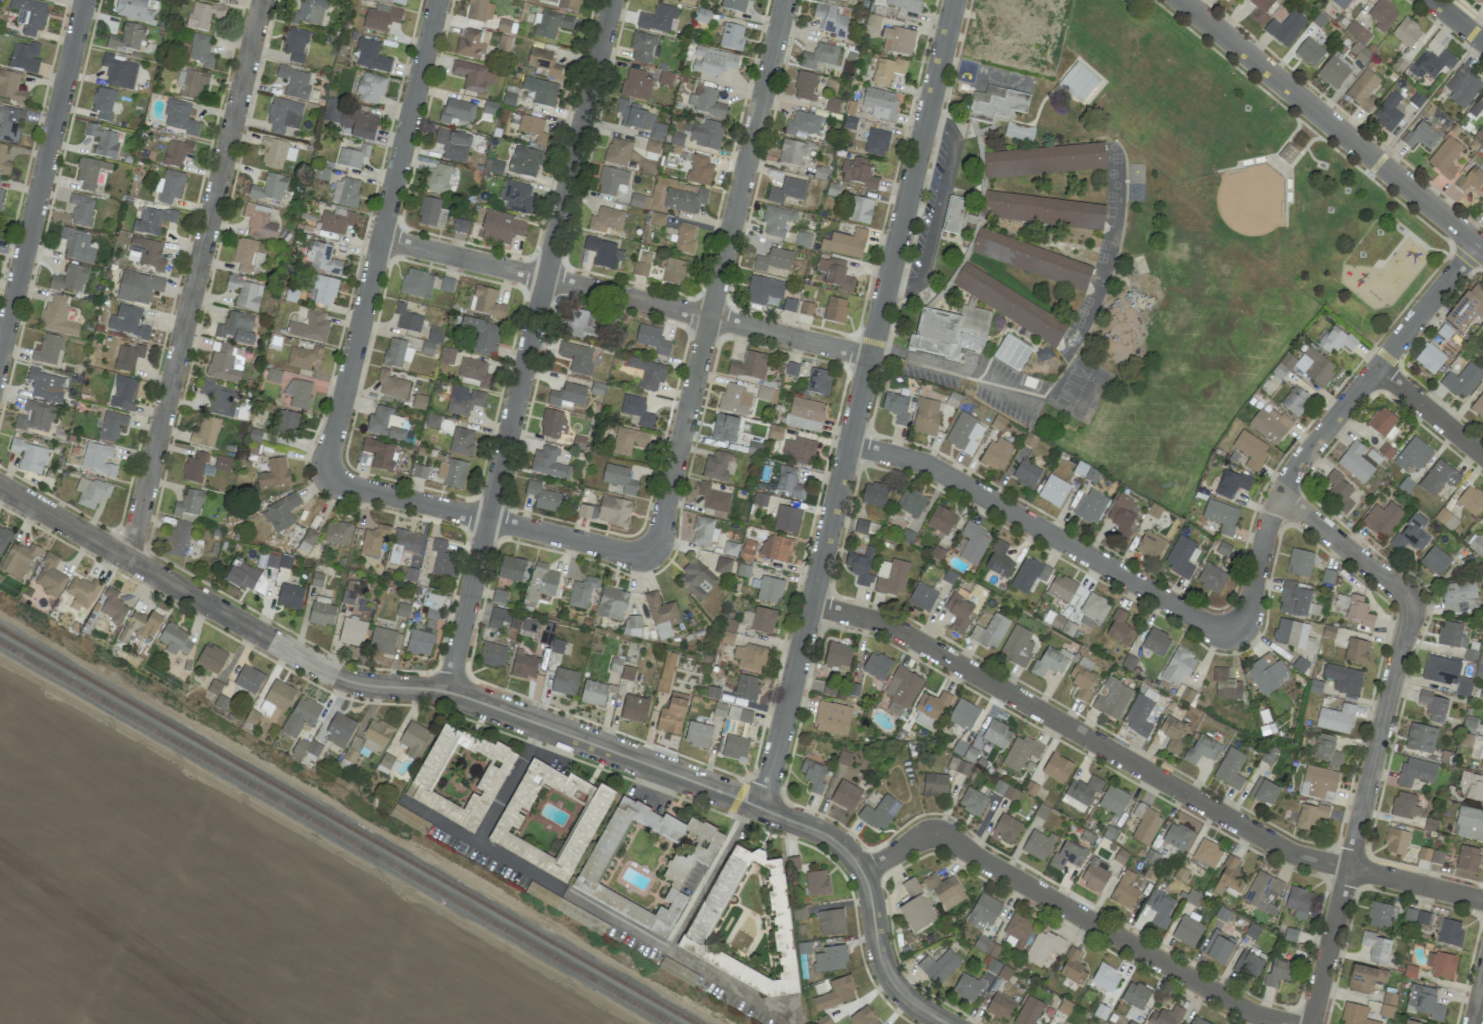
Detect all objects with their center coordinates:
building: (1233, 0)
building: (1363, 0)
building: (396, 1)
building: (834, 1)
building: (1481, 1)
building: (1340, 3)
building: (568, 5)
building: (735, 5)
building: (906, 8)
building: (1033, 8)
building: (1261, 9)
building: (133, 10)
building: (480, 10)
building: (309, 12)
building: (29, 15)
building: (203, 15)
building: (1383, 15)
building: (381, 17)
building: (657, 18)
road: (1457, 20)
building: (831, 21)
building: (550, 24)
building: (504, 26)
building: (1285, 28)
building: (1407, 32)
building: (731, 36)
building: (128, 37)
building: (897, 40)
building: (504, 43)
building: (295, 44)
building: (470, 44)
building: (642, 47)
building: (200, 50)
building: (1309, 52)
building: (371, 56)
building: (819, 56)
building: (24, 57)
building: (712, 61)
building: (544, 62)
building: (1431, 63)
building: (887, 70)
building: (119, 72)
building: (1333, 72)
building: (473, 76)
building: (295, 82)
building: (1078, 82)
building: (190, 84)
building: (636, 84)
building: (804, 85)
building: (1463, 86)
building: (11, 87)
building: (370, 88)
building: (541, 90)
building: (1363, 90)
building: (510, 95)
road: (1430, 95)
building: (706, 101)
building: (1480, 102)
building: (103, 103)
building: (879, 104)
building: (995, 105)
building: (490, 108)
building: (456, 111)
building: (1389, 112)
building: (631, 114)
building: (283, 115)
building: (180, 117)
building: (352, 120)
building: (10, 123)
road: (1331, 124)
building: (803, 125)
building: (533, 128)
building: (655, 129)
building: (1019, 132)
building: (705, 133)
building: (1420, 136)
building: (103, 140)
building: (876, 142)
building: (453, 145)
building: (652, 146)
building: (617, 151)
building: (176, 152)
building: (276, 152)
building: (791, 152)
building: (1288, 154)
park: (1247, 155)
building: (353, 156)
building: (1445, 158)
building: (4, 159)
building: (525, 161)
building: (1044, 161)
building: (493, 166)
building: (700, 170)
building: (89, 172)
building: (858, 172)
building: (321, 173)
road: (41, 176)
building: (437, 179)
building: (0, 180)
building: (611, 180)
building: (1471, 180)
building: (169, 186)
building: (270, 188)
building: (787, 190)
building: (335, 191)
building: (349, 192)
building: (1, 194)
building: (516, 196)
building: (685, 200)
building: (1481, 207)
building: (81, 209)
building: (861, 209)
road: (935, 210)
building: (429, 211)
building: (1043, 212)
building: (954, 215)
building: (606, 219)
building: (152, 220)
building: (777, 220)
building: (259, 221)
building: (336, 221)
building: (461, 226)
building: (501, 228)
park: (1223, 231)
road: (379, 238)
building: (685, 238)
building: (803, 239)
building: (845, 243)
building: (77, 245)
building: (603, 252)
building: (146, 253)
building: (246, 255)
building: (322, 258)
building: (773, 259)
building: (1032, 259)
building: (643, 264)
building: (675, 271)
building: (835, 274)
road: (718, 276)
building: (70, 279)
road: (194, 280)
building: (417, 283)
building: (138, 287)
building: (323, 289)
building: (764, 291)
building: (246, 293)
road: (624, 296)
building: (487, 303)
building: (1010, 305)
building: (806, 308)
building: (1466, 309)
building: (836, 310)
building: (58, 317)
building: (407, 319)
building: (128, 321)
building: (581, 325)
building: (310, 327)
building: (237, 328)
building: (950, 330)
building: (1445, 331)
building: (482, 335)
building: (652, 339)
building: (1336, 340)
building: (431, 342)
road: (527, 345)
building: (49, 349)
building: (1012, 352)
building: (396, 353)
building: (447, 356)
building: (128, 357)
building: (303, 357)
building: (577, 357)
building: (1430, 358)
building: (225, 362)
building: (749, 365)
building: (1315, 366)
building: (791, 369)
road: (956, 369)
building: (474, 371)
building: (648, 373)
building: (273, 375)
building: (1462, 380)
building: (818, 381)
building: (45, 385)
building: (392, 385)
building: (123, 393)
building: (298, 393)
building: (567, 395)
building: (218, 398)
building: (735, 399)
building: (463, 400)
building: (1295, 400)
building: (419, 401)
road: (856, 403)
building: (1478, 405)
building: (896, 407)
building: (636, 410)
road: (1429, 412)
building: (805, 414)
building: (35, 417)
building: (926, 417)
building: (432, 421)
building: (1382, 421)
building: (287, 423)
building: (386, 423)
road: (1329, 423)
building: (552, 424)
building: (1269, 424)
building: (111, 426)
building: (724, 428)
building: (205, 432)
building: (965, 433)
building: (628, 440)
building: (461, 441)
building: (1251, 449)
building: (799, 450)
building: (997, 453)
building: (380, 454)
building: (1413, 454)
building: (30, 456)
building: (97, 458)
building: (549, 462)
building: (1355, 462)
building: (222, 463)
building: (716, 466)
building: (194, 467)
building: (274, 473)
building: (452, 473)
building: (1026, 474)
building: (1439, 477)
building: (619, 478)
building: (788, 482)
building: (1231, 484)
building: (1054, 490)
building: (1339, 490)
building: (90, 492)
building: (873, 494)
building: (543, 497)
building: (714, 498)
building: (1471, 500)
building: (189, 503)
building: (911, 503)
building: (1091, 506)
building: (607, 511)
building: (281, 512)
building: (1221, 516)
road: (488, 519)
building: (787, 519)
building: (1122, 519)
building: (1382, 519)
building: (941, 520)
building: (1481, 521)
building: (865, 526)
road: (1043, 529)
building: (703, 532)
building: (337, 533)
building: (1410, 534)
building: (309, 537)
building: (3, 539)
building: (177, 539)
building: (374, 540)
building: (973, 543)
building: (404, 544)
building: (1151, 545)
building: (1476, 545)
building: (750, 547)
building: (730, 548)
building: (776, 548)
building: (1182, 556)
building: (274, 559)
building: (442, 559)
building: (999, 559)
building: (18, 560)
building: (1435, 560)
building: (1300, 562)
building: (723, 566)
building: (860, 567)
building: (512, 568)
building: (742, 570)
building: (1029, 574)
building: (49, 576)
building: (242, 576)
building: (892, 577)
building: (1211, 577)
building: (696, 578)
building: (541, 582)
building: (768, 589)
building: (1061, 589)
building: (82, 591)
building: (582, 592)
building: (290, 596)
building: (498, 596)
building: (1459, 596)
building: (348, 597)
building: (922, 597)
building: (1294, 599)
building: (612, 603)
building: (431, 605)
building: (112, 606)
building: (959, 609)
building: (1093, 610)
building: (1358, 610)
building: (322, 613)
building: (661, 615)
building: (498, 617)
building: (759, 619)
building: (429, 625)
building: (529, 625)
building: (632, 625)
building: (141, 626)
building: (1119, 629)
building: (352, 631)
building: (728, 631)
building: (990, 631)
building: (1293, 634)
building: (1451, 634)
building: (175, 639)
building: (382, 640)
building: (419, 642)
building: (552, 642)
building: (1156, 642)
building: (1017, 646)
building: (1356, 651)
building: (492, 654)
building: (750, 657)
building: (838, 657)
building: (211, 658)
building: (1050, 662)
building: (523, 665)
building: (876, 665)
building: (1178, 666)
building: (666, 672)
building: (627, 673)
building: (1446, 673)
building: (1266, 674)
building: (1343, 678)
building: (248, 679)
building: (565, 681)
building: (1082, 682)
building: (1226, 685)
building: (746, 687)
building: (831, 690)
building: (901, 690)
building: (598, 693)
building: (1184, 693)
building: (1481, 693)
building: (277, 697)
building: (1112, 698)
building: (932, 705)
building: (1433, 705)
building: (634, 707)
building: (720, 709)
building: (672, 713)
building: (739, 714)
building: (963, 714)
road: (514, 715)
building: (1139, 715)
building: (301, 716)
building: (832, 718)
building: (1336, 718)
road: (1379, 729)
building: (339, 730)
building: (698, 734)
building: (996, 734)
building: (1174, 734)
building: (1420, 738)
building: (414, 739)
building: (366, 742)
building: (735, 746)
building: (306, 748)
building: (1202, 749)
building: (1326, 750)
building: (1020, 752)
building: (386, 763)
building: (1482, 763)
road: (1140, 766)
building: (1057, 767)
building: (1230, 768)
building: (1416, 771)
building: (813, 775)
building: (459, 776)
building: (1319, 783)
building: (935, 784)
building: (1472, 786)
building: (1004, 790)
building: (1263, 791)
building: (1080, 793)
building: (846, 795)
building: (1114, 800)
building: (972, 801)
building: (1405, 805)
building: (879, 813)
building: (1311, 815)
building: (550, 819)
road: (439, 821)
road: (485, 822)
building: (1469, 823)
building: (1145, 824)
railway: (347, 826)
building: (1007, 827)
railway: (335, 833)
building: (1177, 836)
building: (1396, 841)
building: (1037, 844)
building: (1206, 854)
building: (1424, 854)
building: (1068, 855)
building: (1468, 858)
building: (793, 863)
building: (645, 864)
building: (1095, 875)
road: (708, 877)
building: (1229, 877)
building: (817, 882)
building: (945, 891)
building: (1125, 891)
building: (1263, 892)
building: (1299, 902)
crop: (209, 905)
building: (916, 907)
building: (1160, 907)
building: (983, 912)
road: (1075, 913)
building: (1380, 915)
building: (1416, 916)
building: (831, 922)
building: (746, 923)
building: (1018, 931)
building: (1187, 931)
building: (1449, 932)
building: (1043, 947)
building: (1217, 947)
building: (1376, 947)
road: (679, 957)
building: (830, 958)
building: (1248, 964)
building: (1441, 964)
building: (939, 966)
building: (1073, 967)
building: (1278, 972)
building: (1365, 977)
building: (1105, 978)
building: (836, 993)
building: (1135, 995)
building: (1424, 1001)
road: (1477, 1001)
building: (1388, 1004)
building: (1000, 1006)
building: (1028, 1011)
building: (1355, 1014)
building: (863, 1016)
building: (1167, 1016)
building: (1197, 1021)
building: (1411, 1022)

